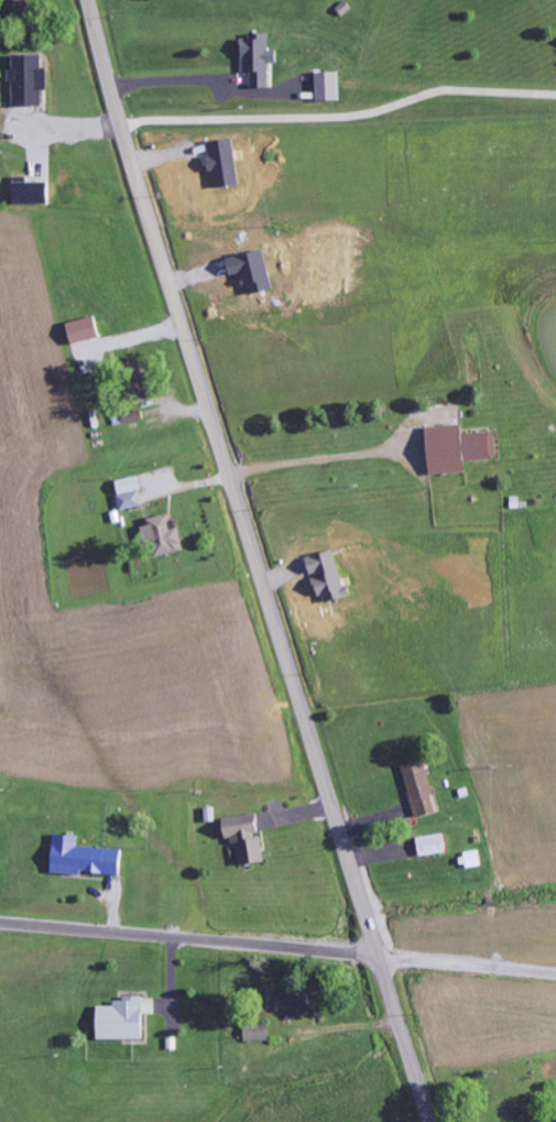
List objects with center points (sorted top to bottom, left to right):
building: (18, 10)
building: (259, 61)
building: (28, 80)
building: (328, 87)
building: (31, 194)
building: (84, 331)
building: (137, 383)
building: (458, 450)
road: (318, 460)
building: (130, 494)
building: (163, 536)
road: (255, 562)
building: (422, 788)
building: (248, 842)
building: (433, 845)
building: (84, 858)
building: (475, 859)
road: (189, 940)
road: (467, 965)
building: (295, 1001)
building: (122, 1020)
building: (258, 1033)

